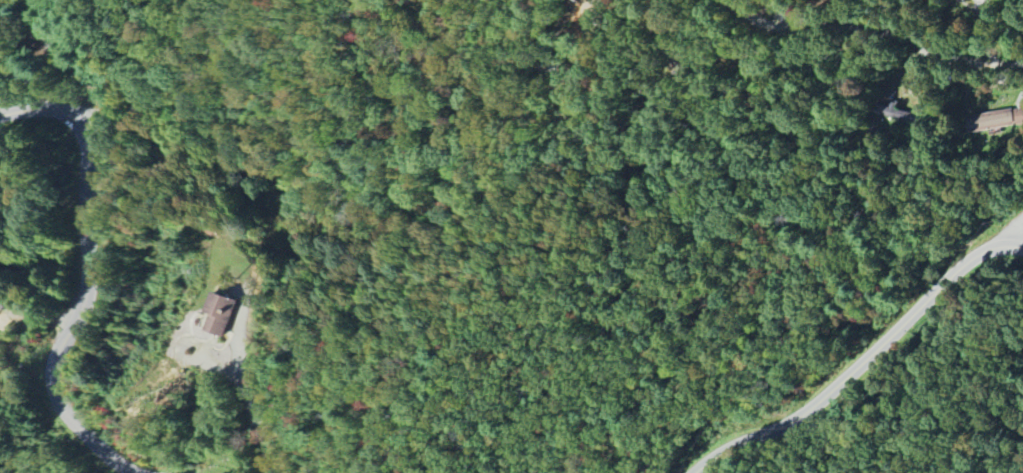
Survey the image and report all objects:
building: (962, 0)
road: (1014, 13)
road: (778, 14)
road: (874, 27)
building: (994, 120)
road: (1016, 234)
road: (84, 274)
building: (217, 313)
road: (36, 315)
road: (863, 361)
road: (252, 408)

